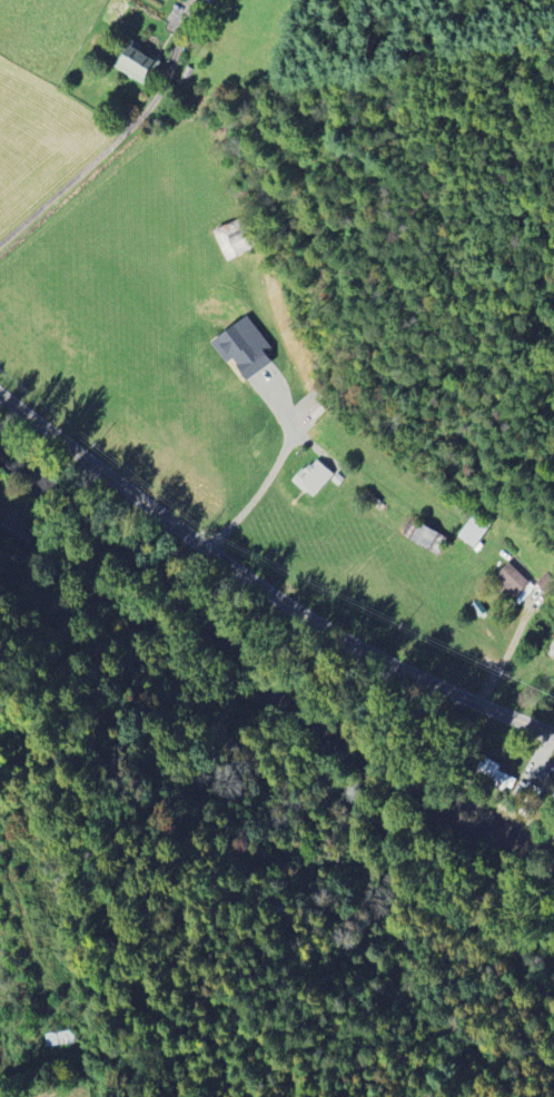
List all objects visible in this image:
building: (136, 63)
road: (65, 186)
building: (244, 348)
building: (313, 477)
road: (251, 503)
building: (474, 530)
building: (419, 535)
building: (511, 582)
road: (264, 587)
road: (508, 654)
building: (495, 773)
building: (525, 791)
building: (60, 1038)

